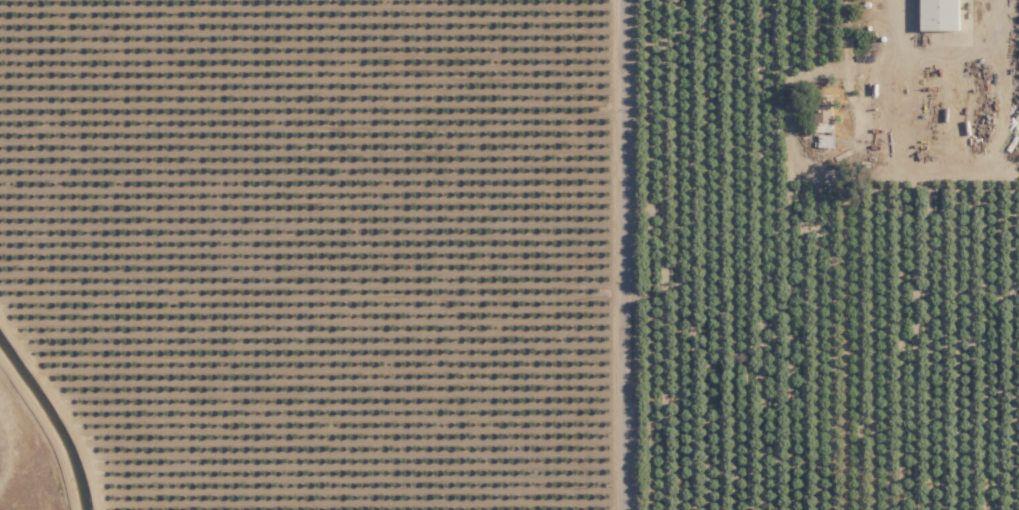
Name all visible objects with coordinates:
building: (940, 14)
road: (940, 54)
road: (849, 64)
building: (822, 114)
building: (825, 140)
road: (623, 255)

